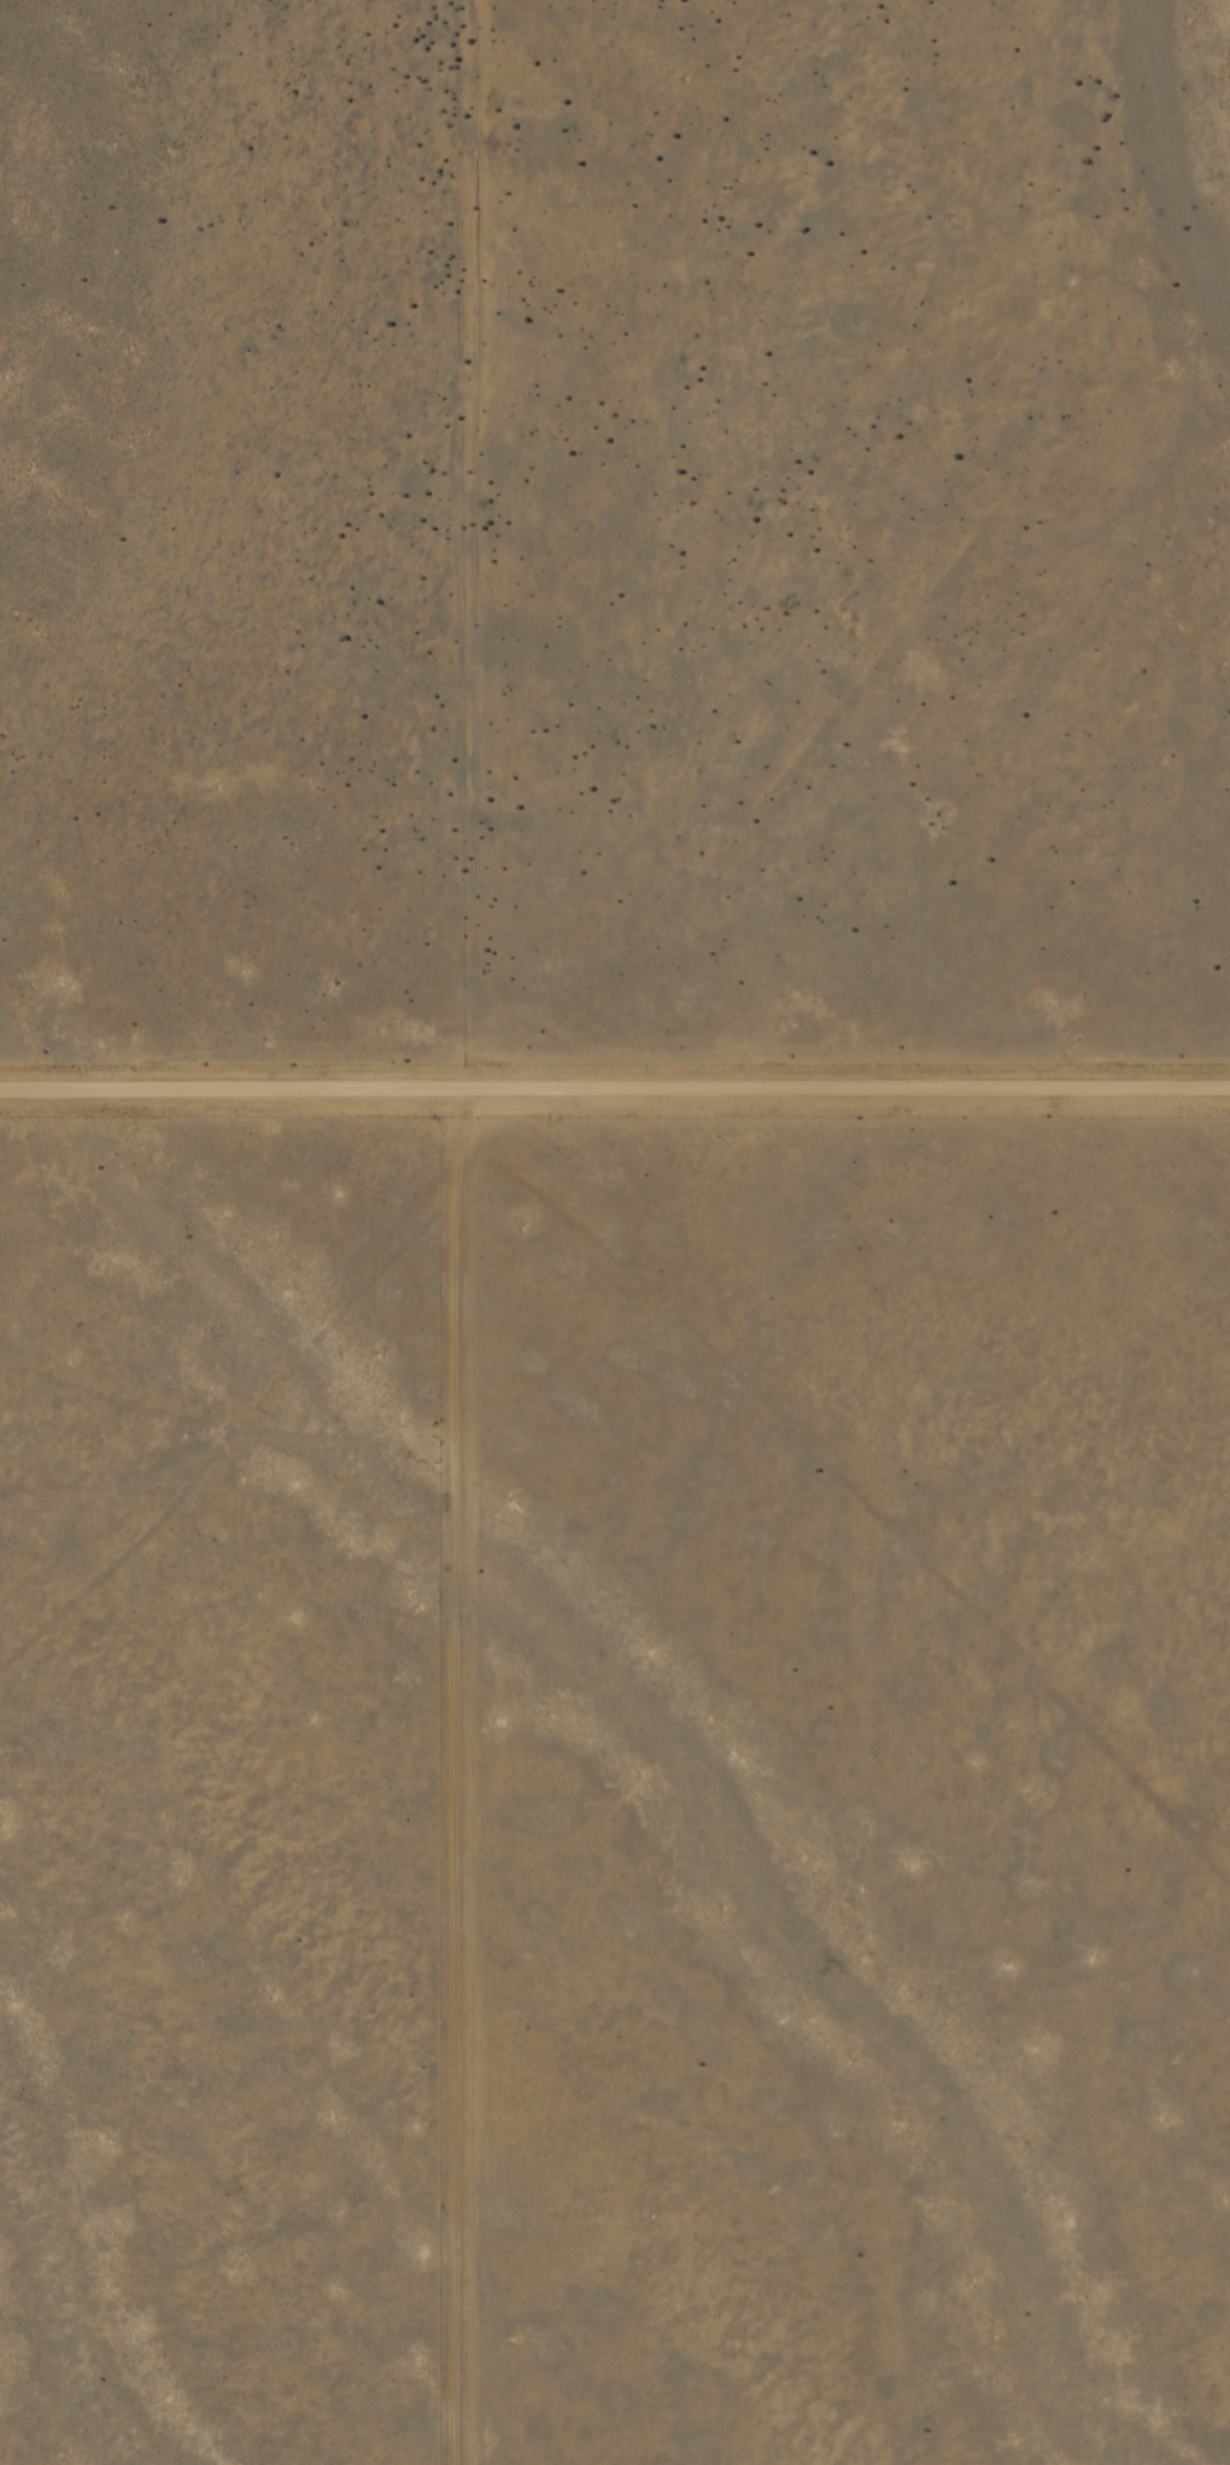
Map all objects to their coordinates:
road: (615, 1106)

